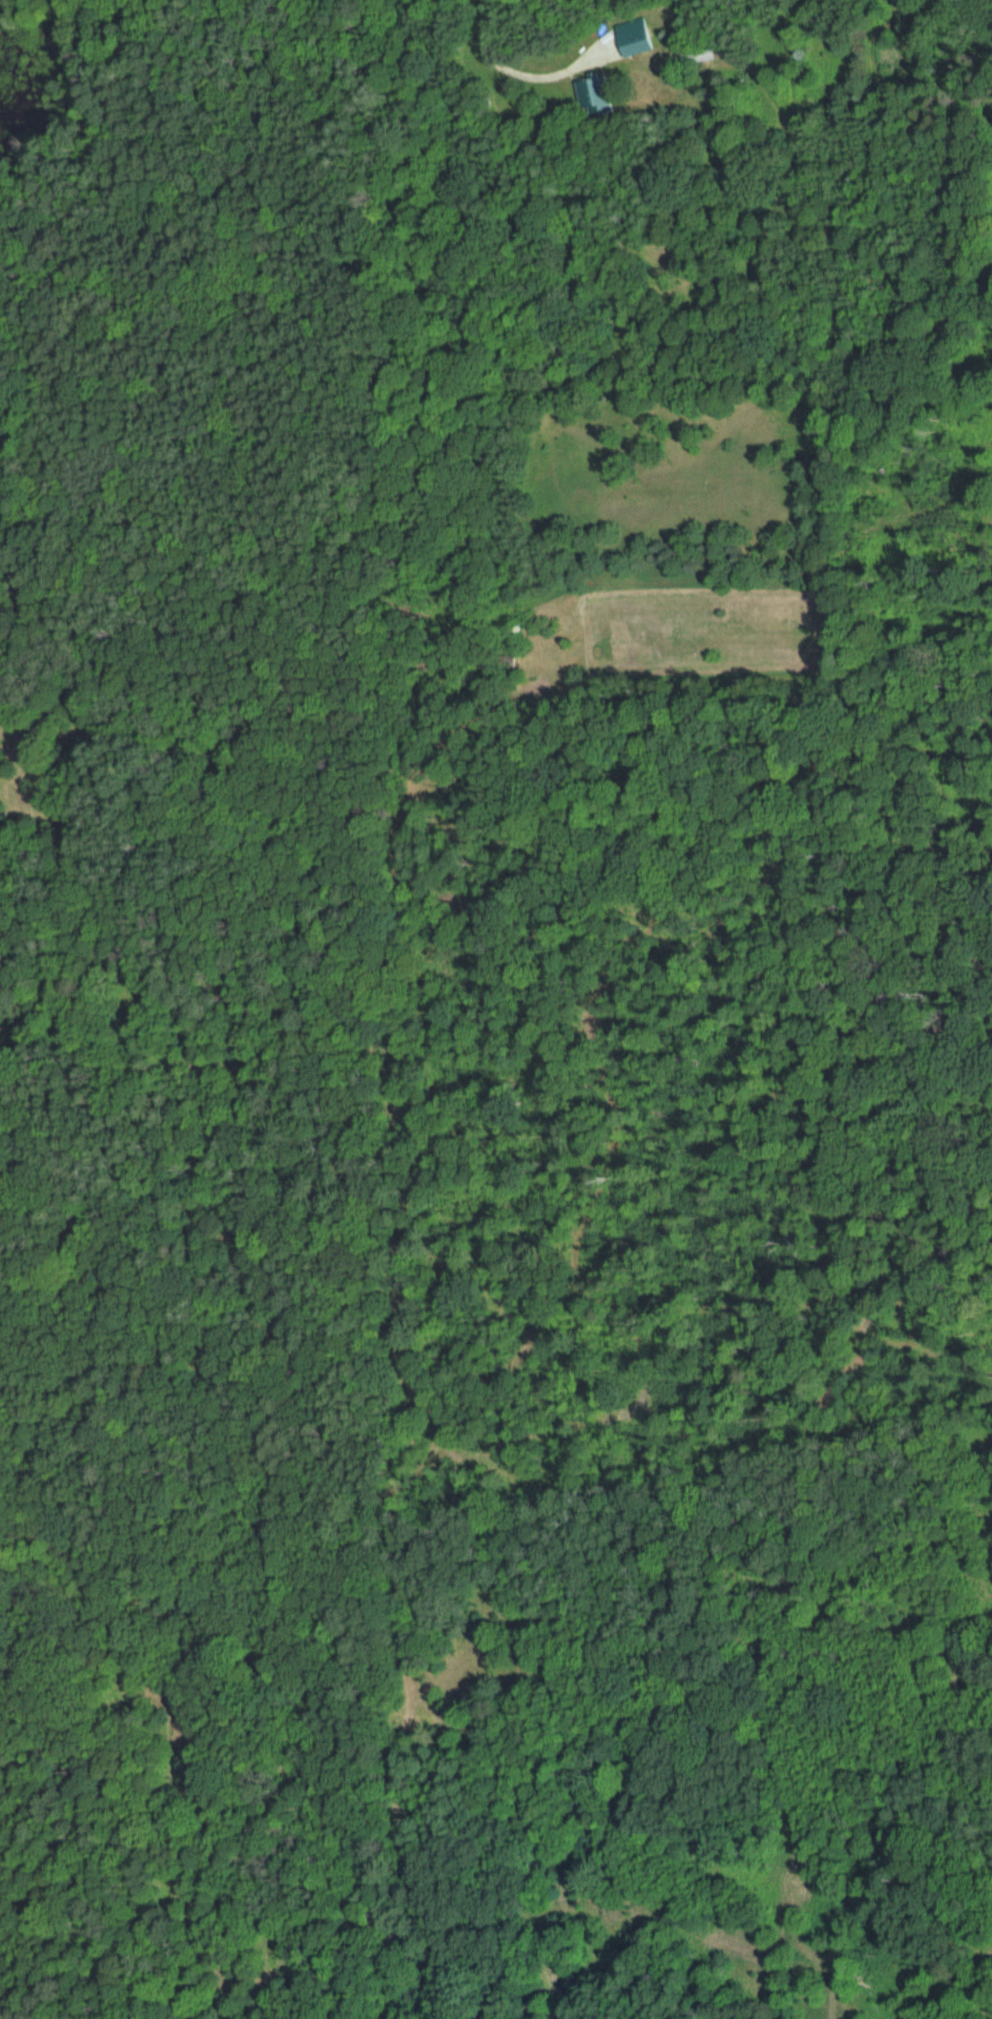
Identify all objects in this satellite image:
building: (631, 36)
road: (494, 48)
building: (694, 55)
building: (592, 93)
building: (502, 661)

